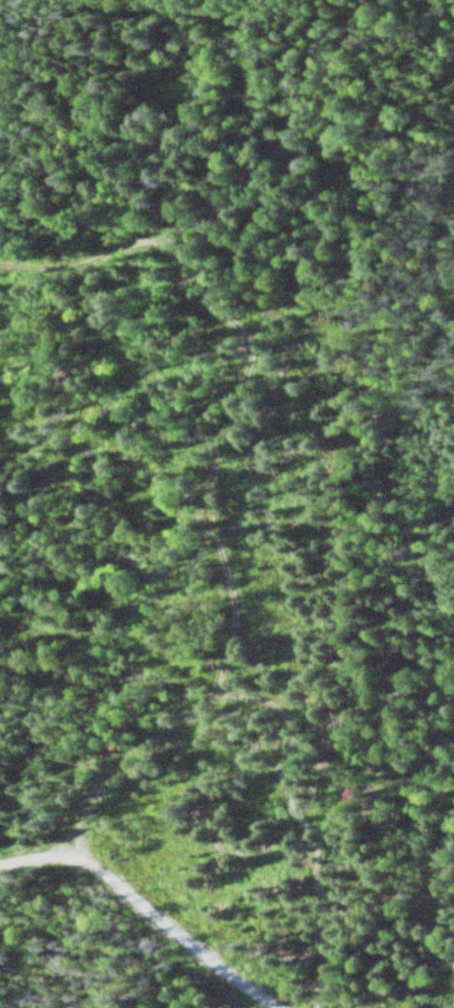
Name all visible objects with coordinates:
road: (218, 198)

